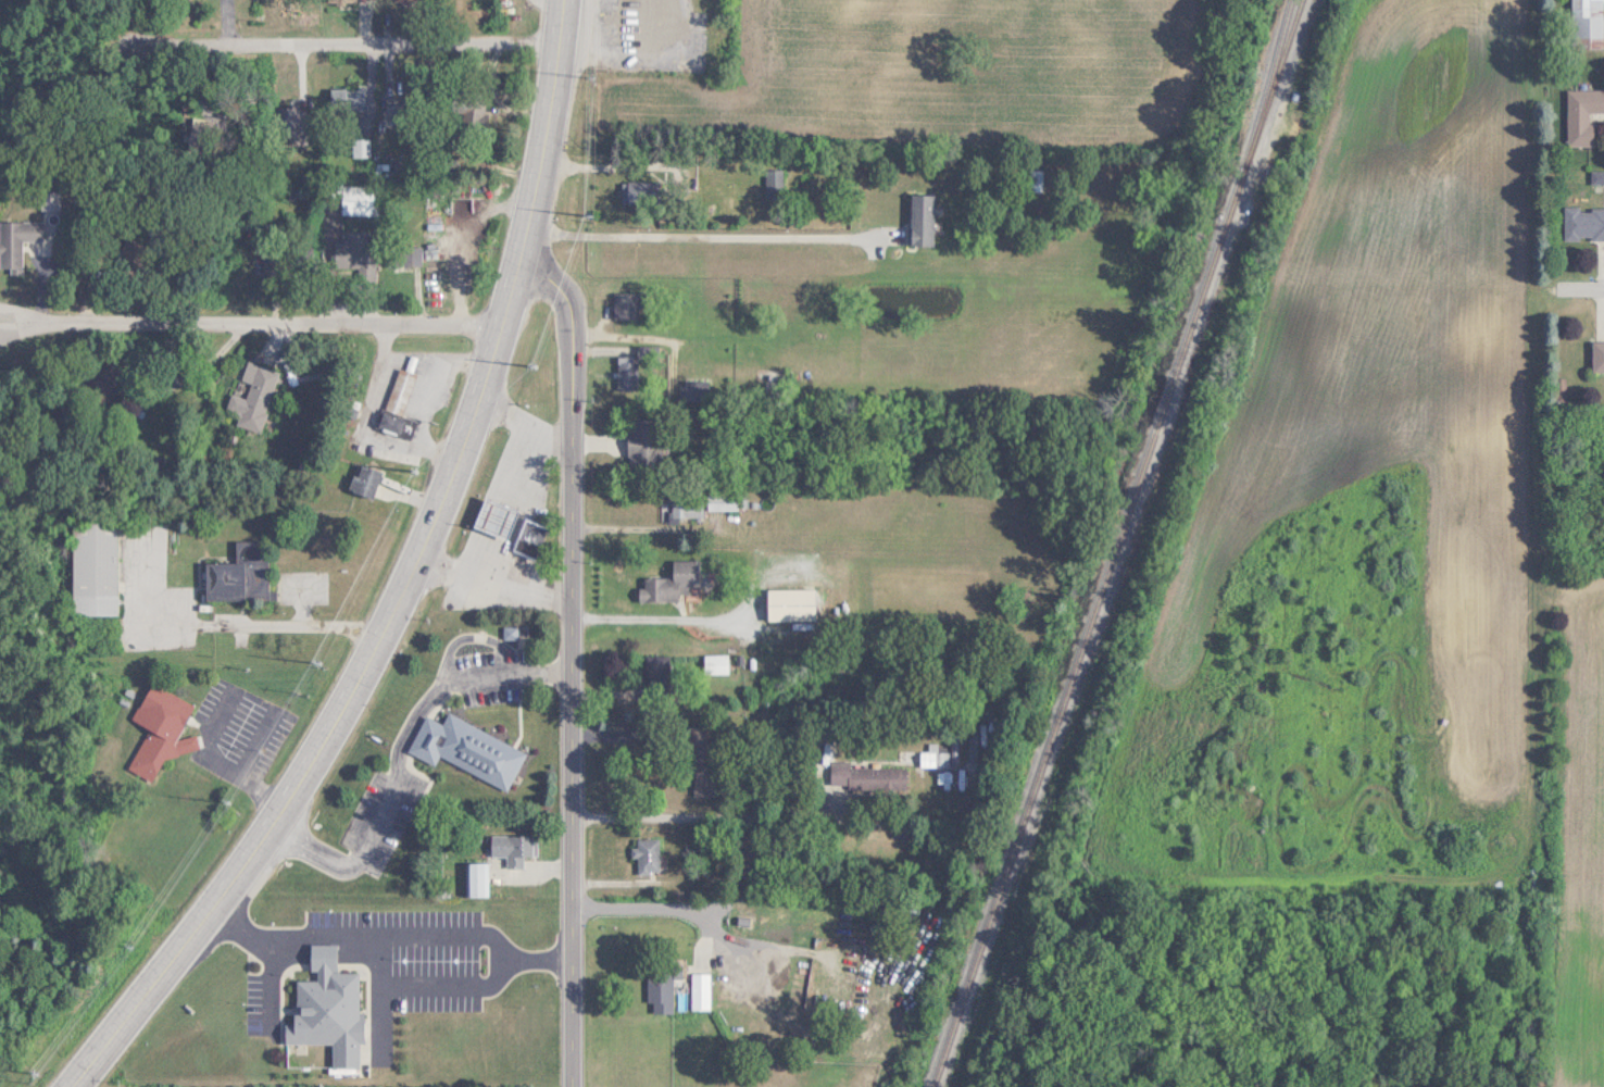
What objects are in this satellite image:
building: (644, 20)
building: (1586, 21)
road: (686, 24)
park: (21, 32)
road: (326, 41)
road: (618, 49)
railway: (1267, 84)
railway: (1271, 84)
road: (494, 96)
building: (396, 114)
building: (1582, 114)
building: (289, 121)
road: (596, 166)
building: (1037, 176)
building: (773, 183)
building: (638, 191)
building: (351, 197)
building: (47, 199)
building: (919, 218)
building: (1583, 223)
road: (705, 237)
building: (15, 240)
building: (349, 249)
building: (405, 255)
road: (1591, 302)
building: (626, 303)
road: (250, 322)
road: (461, 354)
building: (1597, 355)
building: (626, 371)
road: (429, 373)
building: (697, 389)
building: (251, 396)
building: (397, 404)
road: (368, 425)
building: (640, 437)
building: (363, 480)
building: (722, 500)
building: (685, 507)
road: (519, 510)
building: (493, 516)
road: (642, 523)
building: (528, 538)
building: (91, 567)
building: (238, 574)
road: (522, 579)
road: (403, 583)
building: (672, 583)
building: (789, 603)
road: (659, 615)
railway: (1087, 627)
road: (474, 634)
road: (569, 660)
building: (159, 729)
building: (466, 749)
building: (940, 759)
building: (701, 760)
road: (391, 764)
building: (865, 776)
road: (701, 815)
building: (512, 848)
building: (646, 857)
building: (475, 879)
road: (667, 910)
road: (390, 935)
road: (274, 982)
road: (428, 987)
building: (699, 990)
building: (660, 991)
building: (327, 1009)

